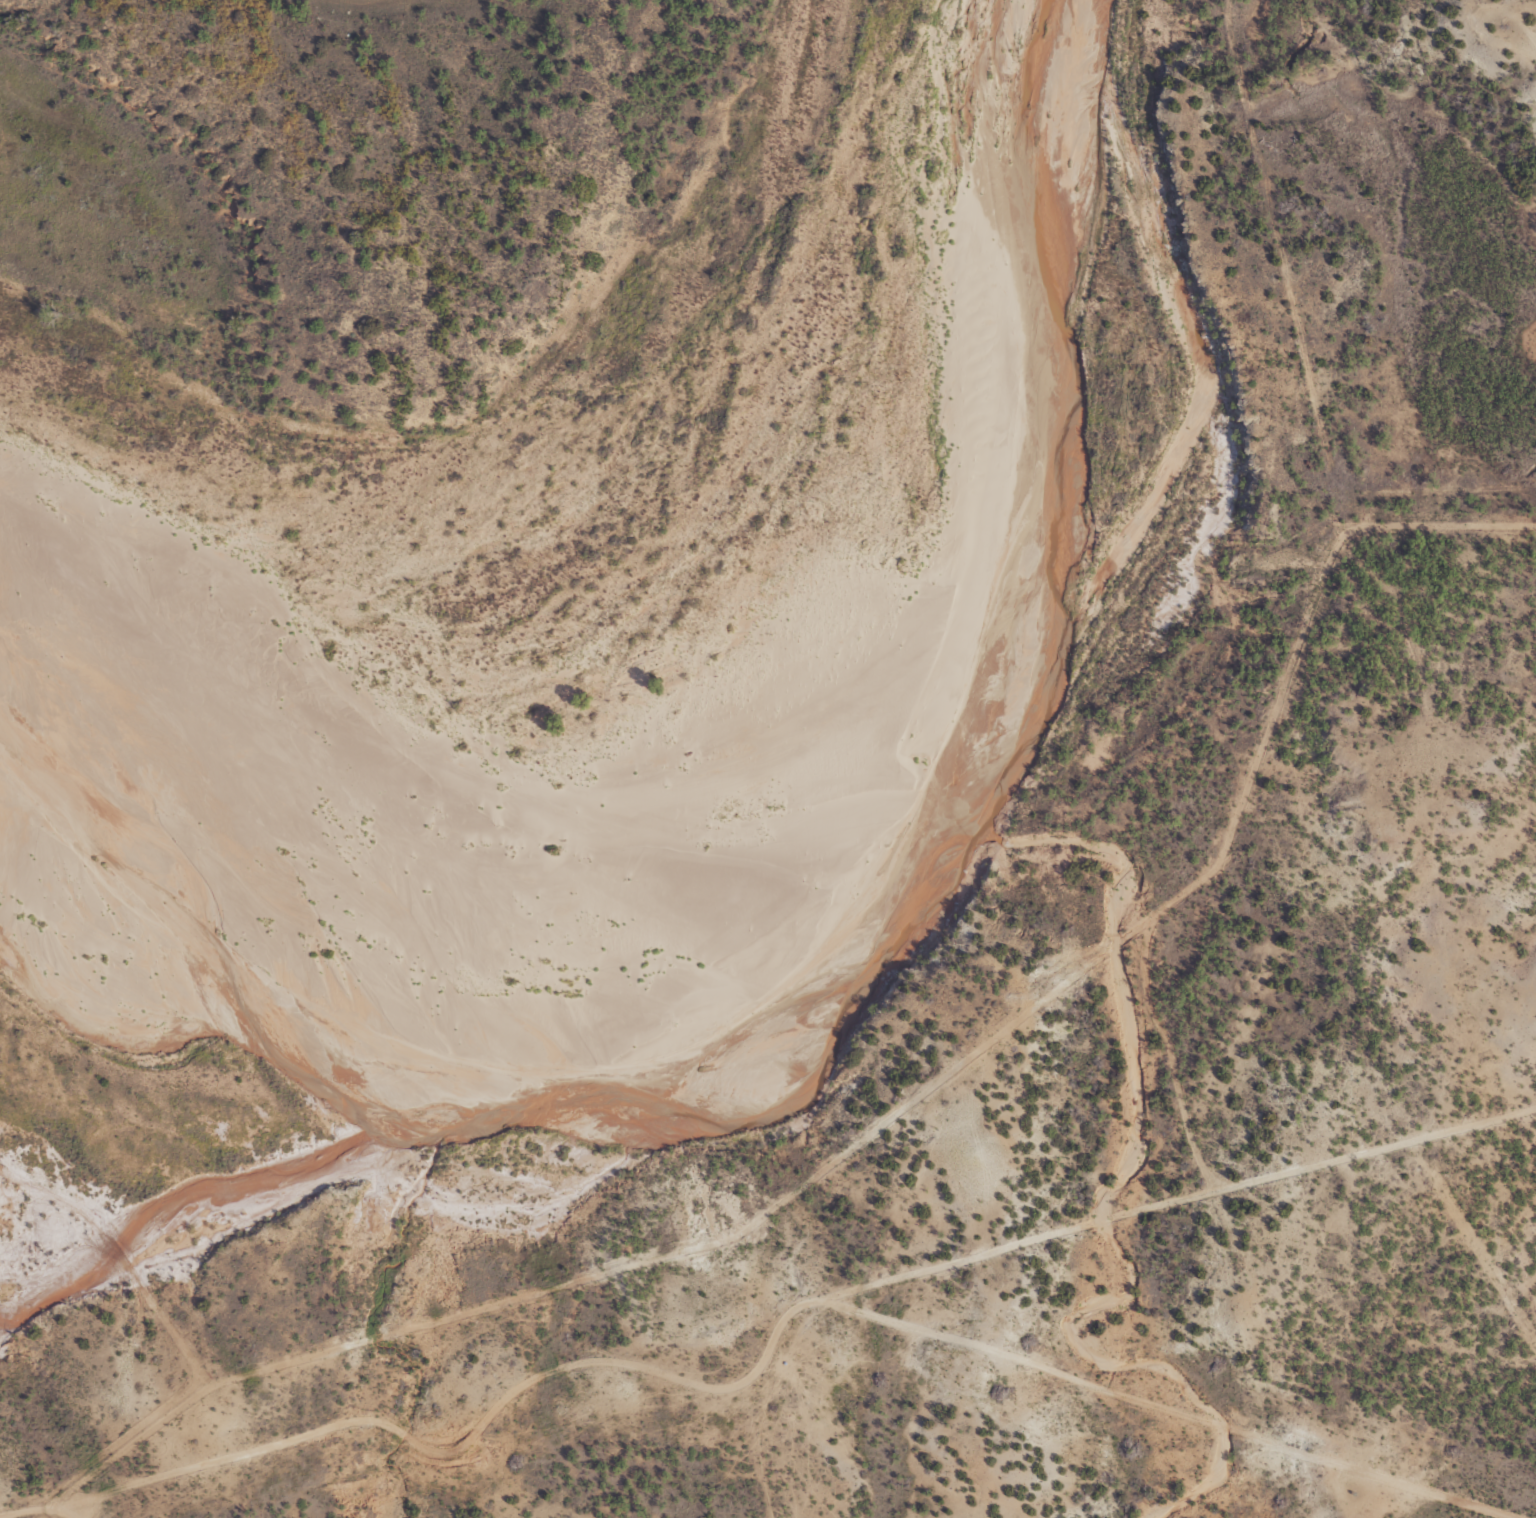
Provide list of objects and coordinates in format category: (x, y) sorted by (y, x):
road: (1471, 50)
river: (853, 967)

